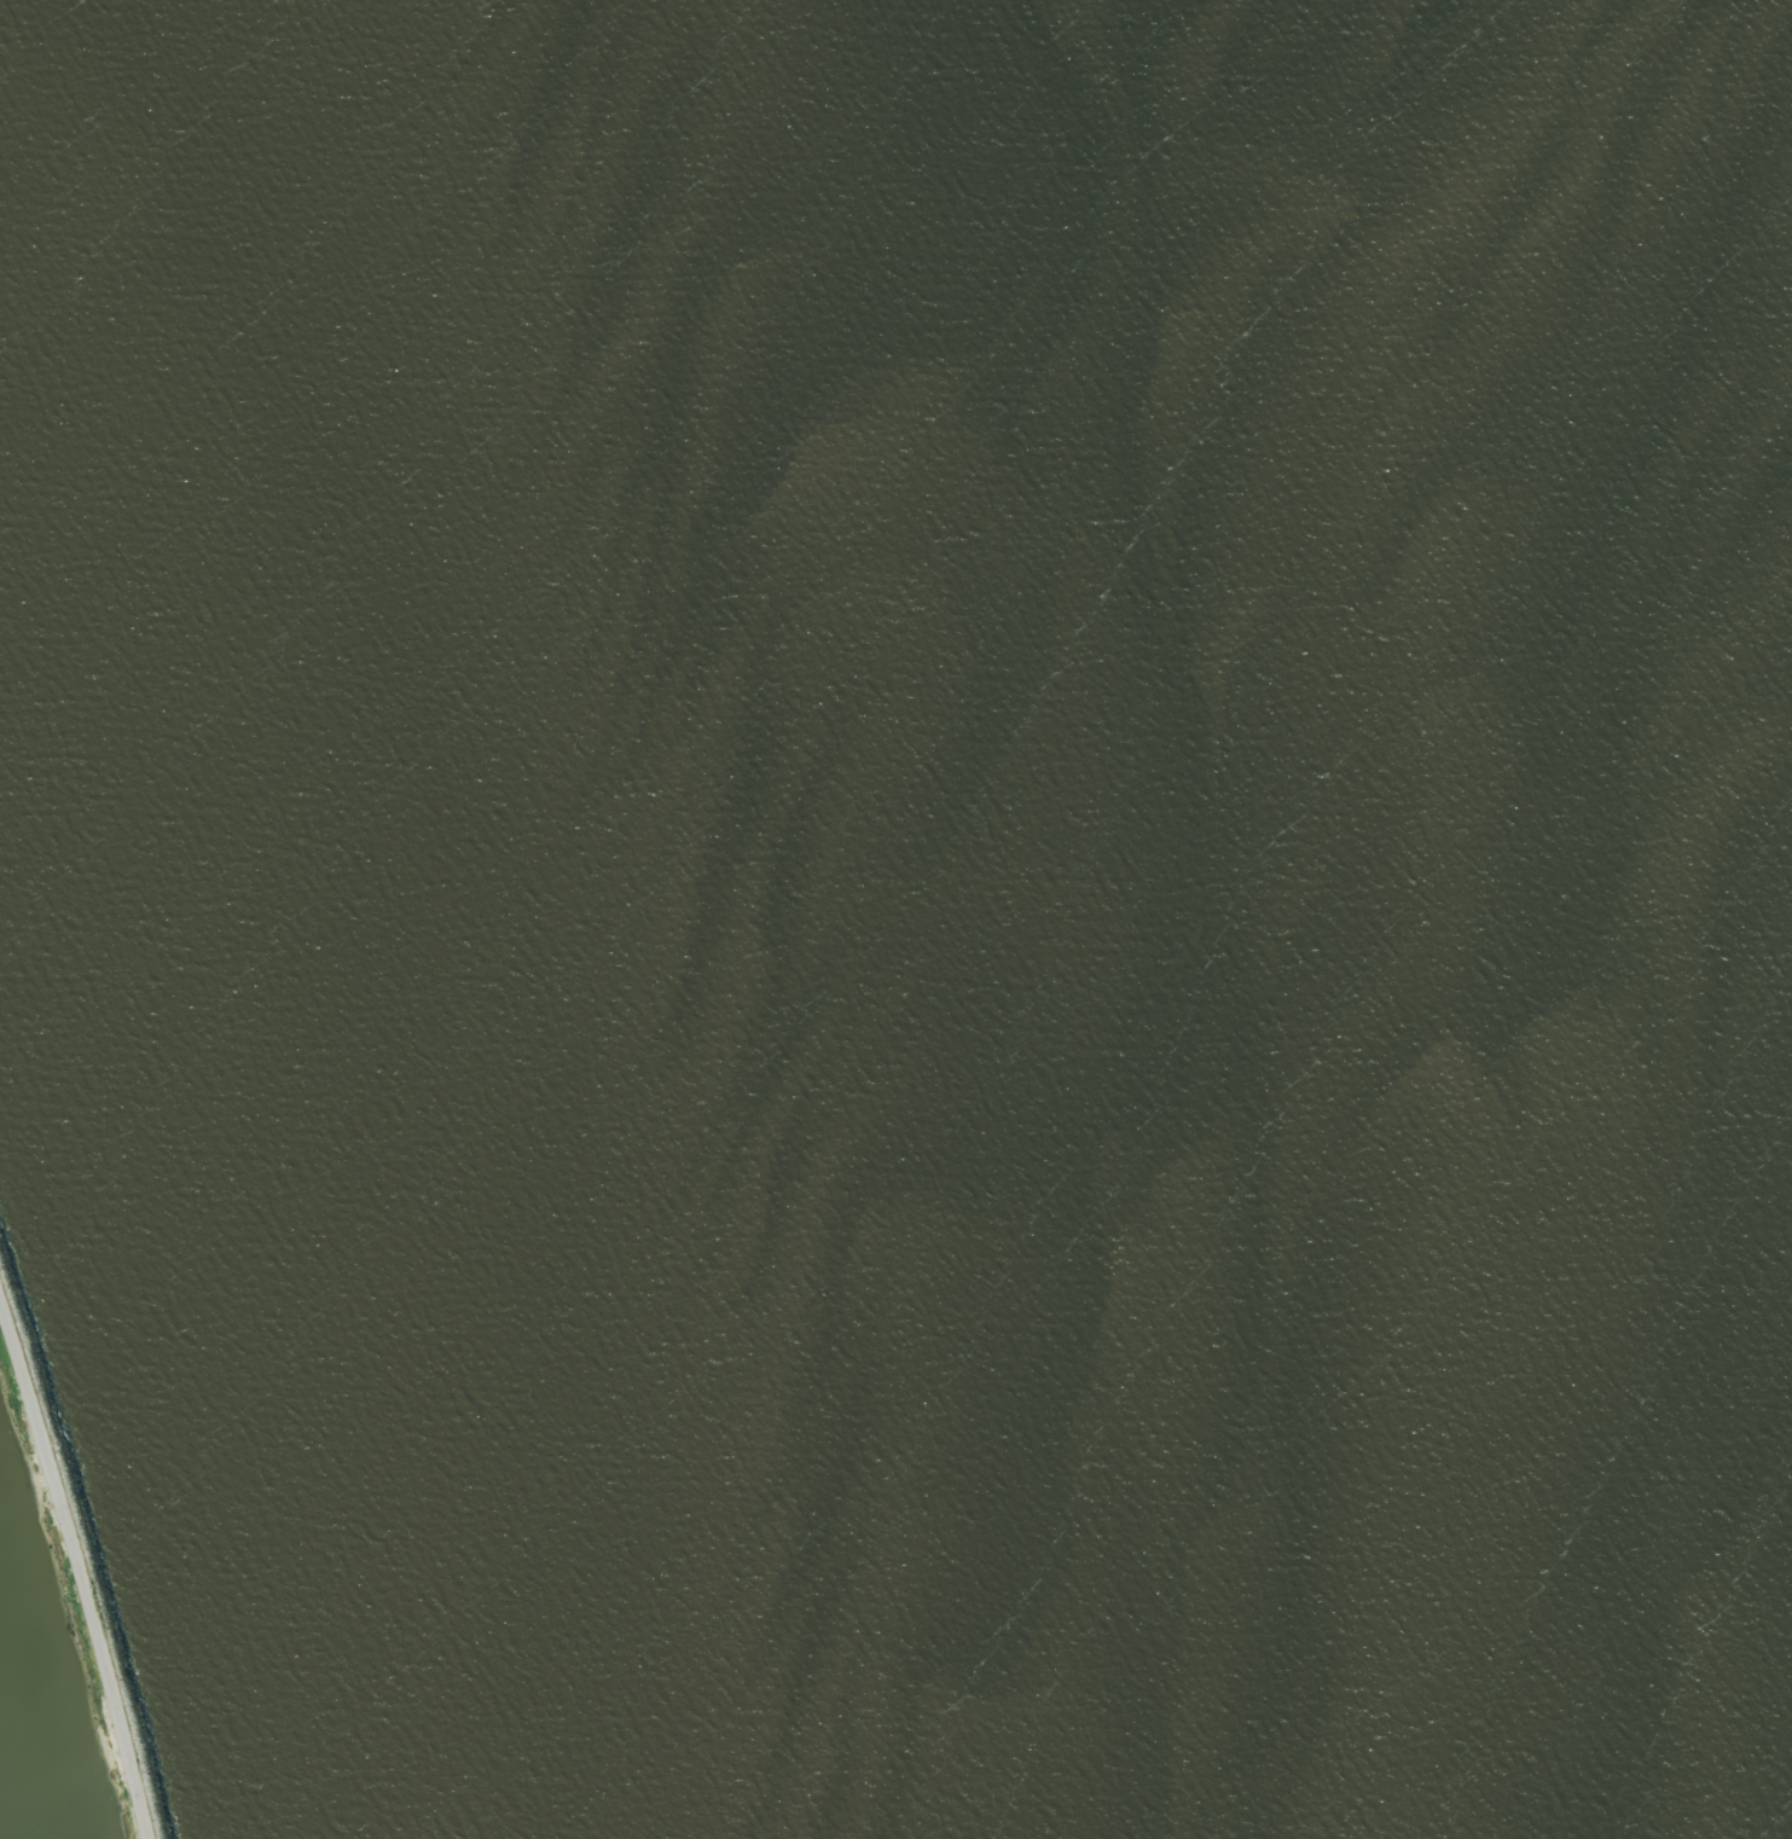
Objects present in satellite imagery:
road: (76, 1566)

